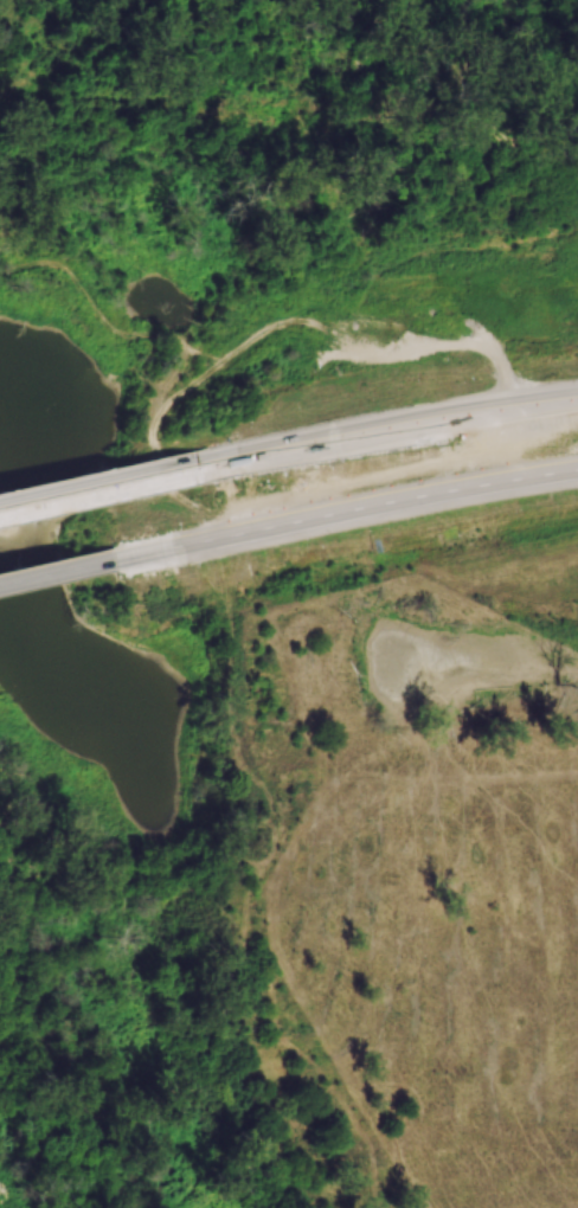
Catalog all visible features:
road: (386, 430)
road: (97, 489)
road: (343, 512)
road: (56, 572)

